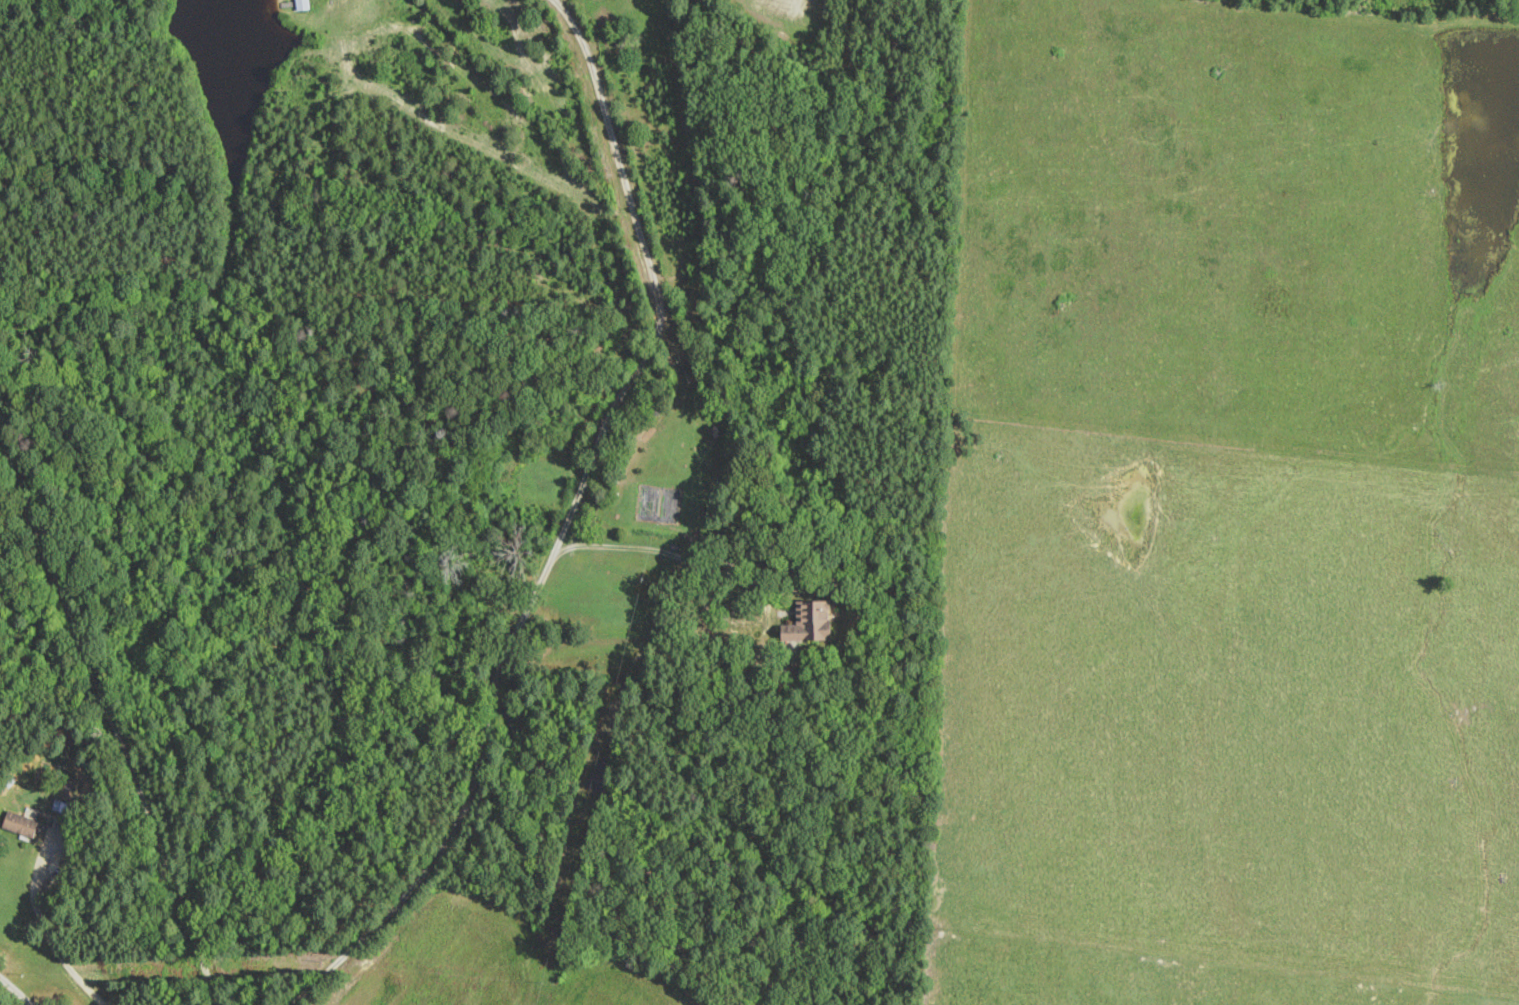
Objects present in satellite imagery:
building: (302, 5)
road: (565, 523)
road: (662, 549)
building: (810, 622)
road: (110, 716)
building: (63, 807)
building: (20, 824)
road: (44, 925)
road: (16, 990)

